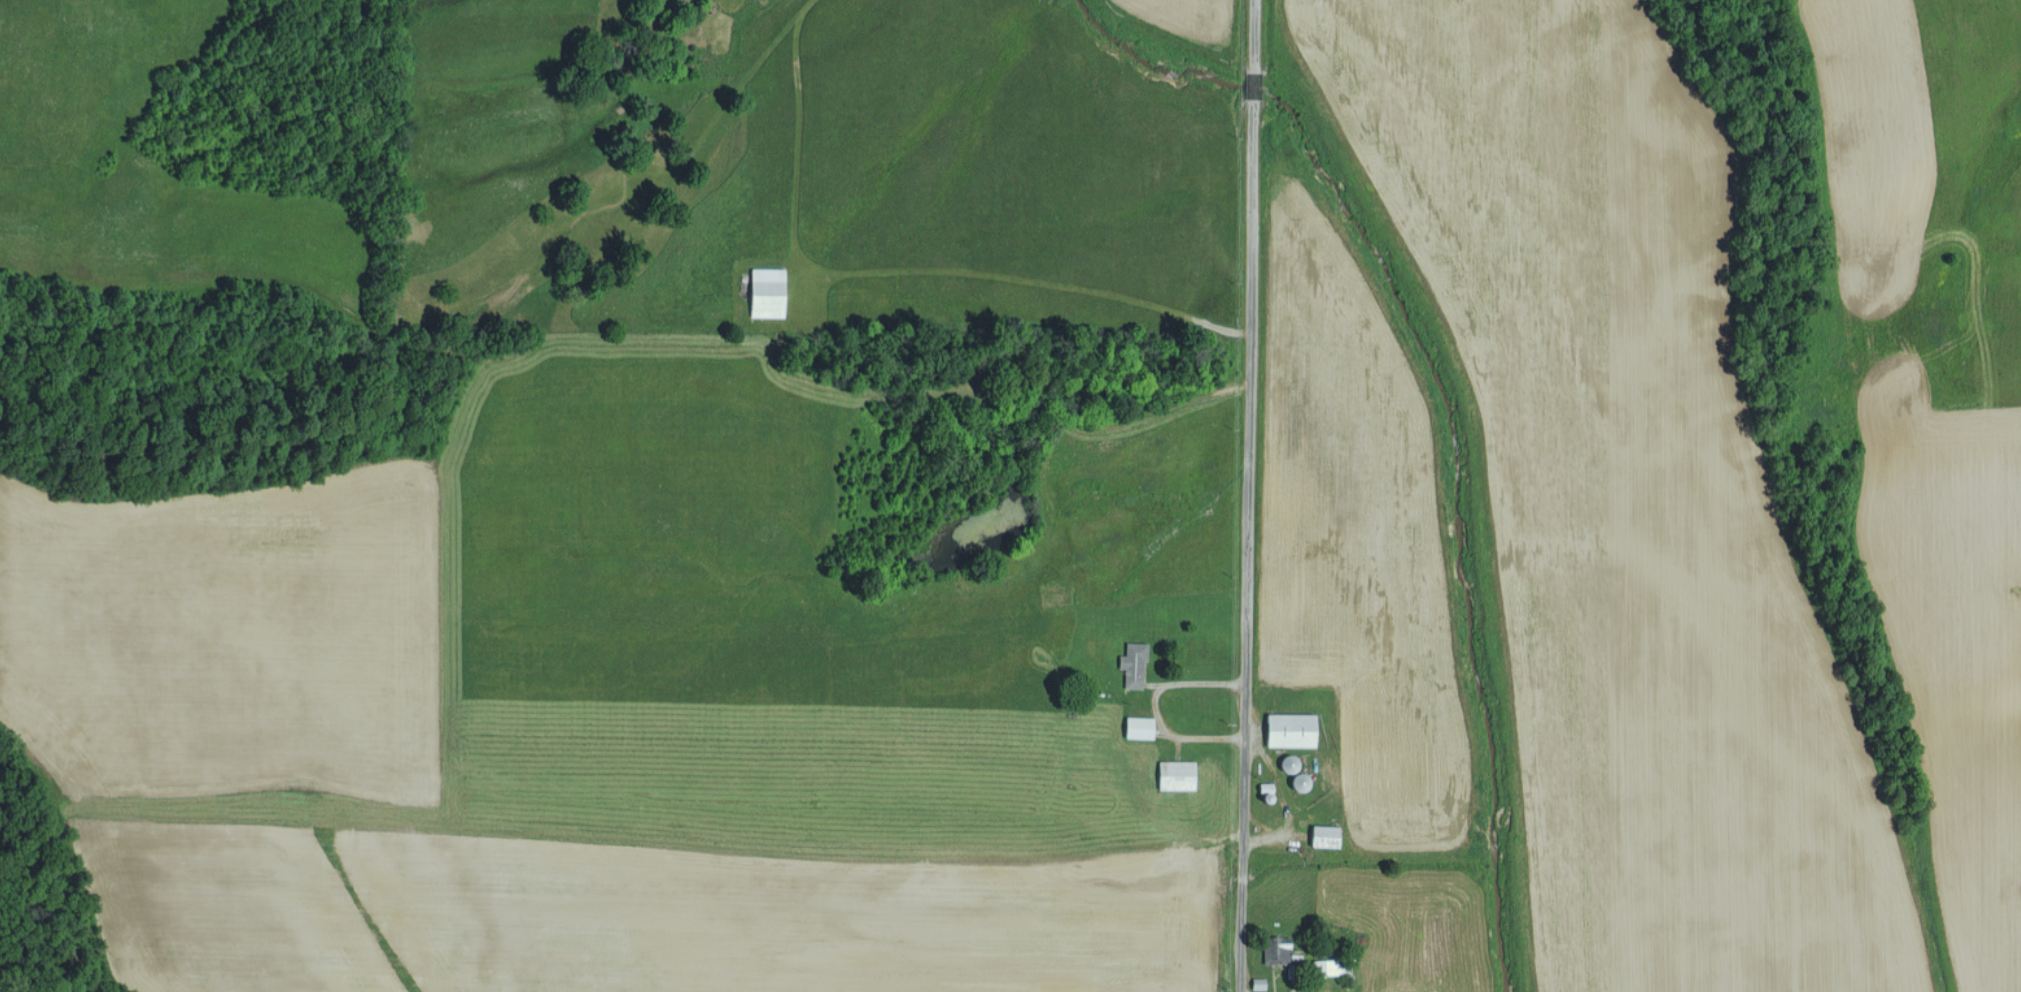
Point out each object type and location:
building: (764, 291)
road: (1248, 496)
building: (1131, 664)
building: (1136, 727)
building: (1288, 729)
building: (1173, 774)
building: (1321, 835)
building: (1280, 949)
building: (1324, 967)

